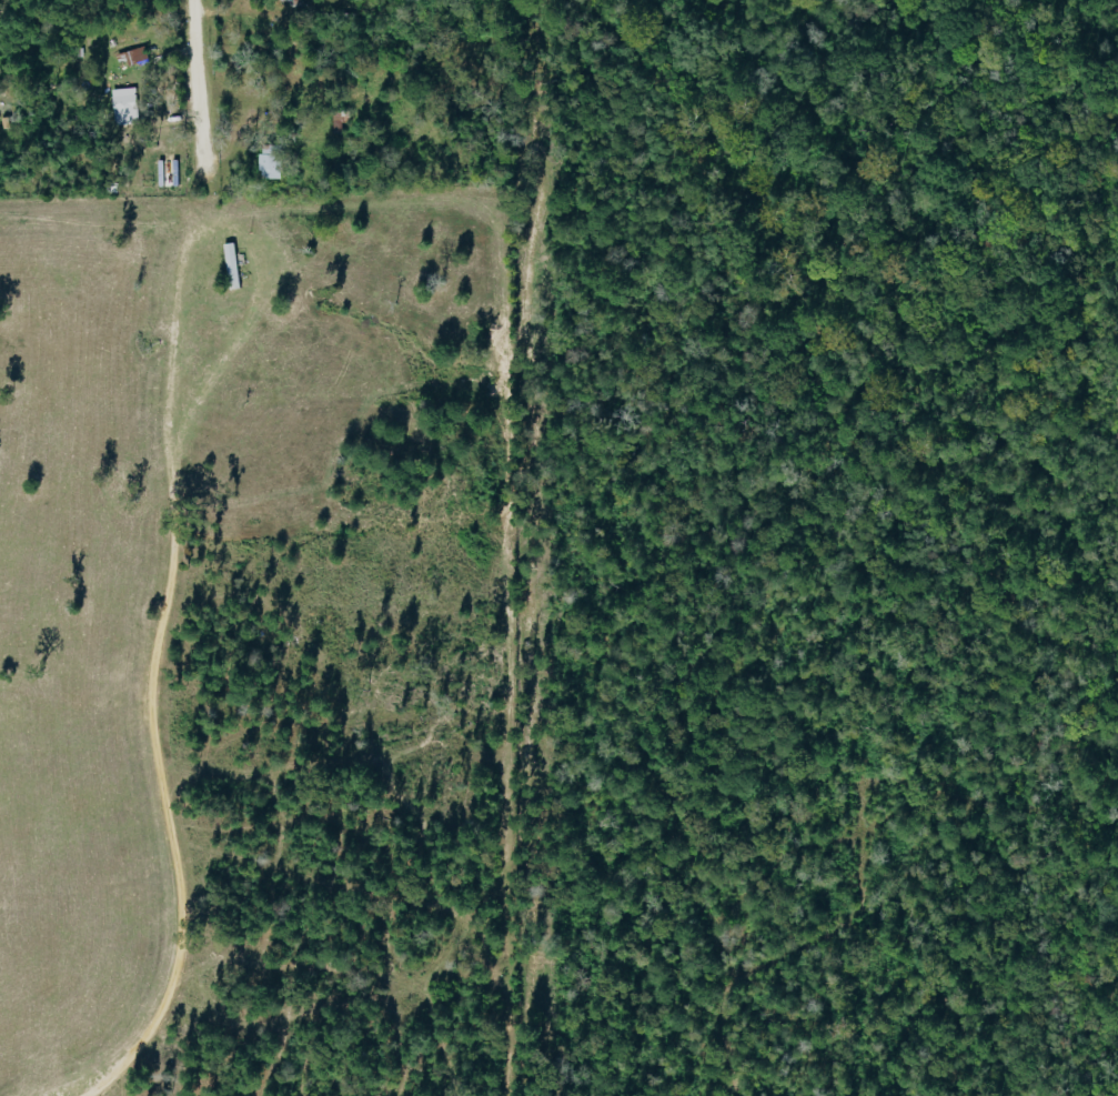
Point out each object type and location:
road: (2, 9)
road: (221, 12)
building: (131, 57)
road: (195, 84)
building: (122, 100)
building: (268, 167)

